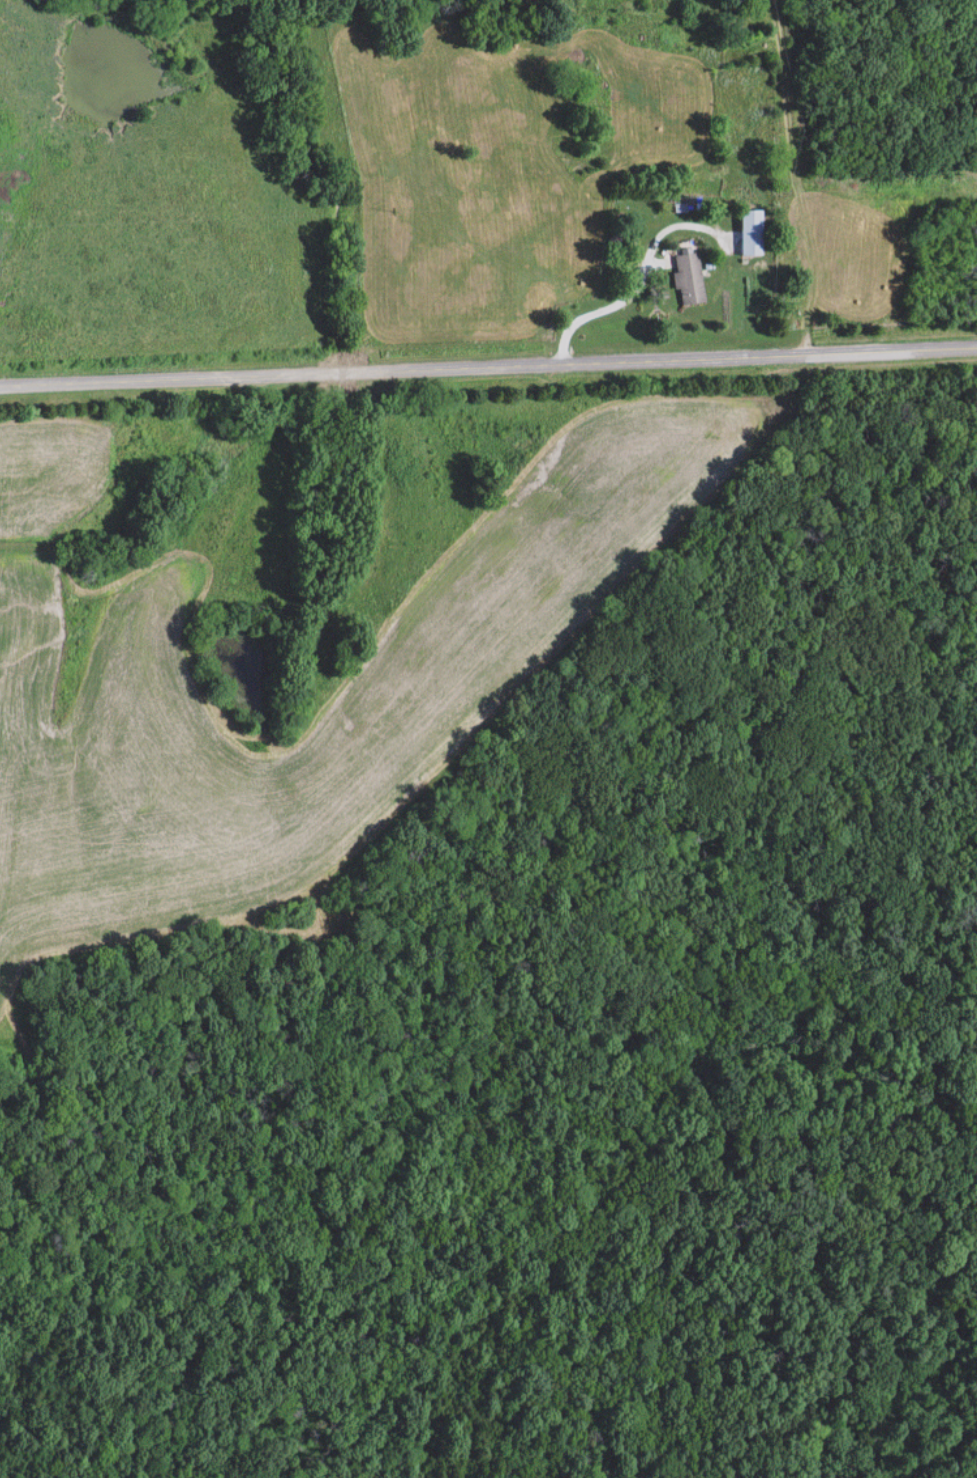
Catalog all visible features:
road: (797, 198)
building: (747, 232)
road: (640, 273)
building: (686, 278)
road: (488, 365)

